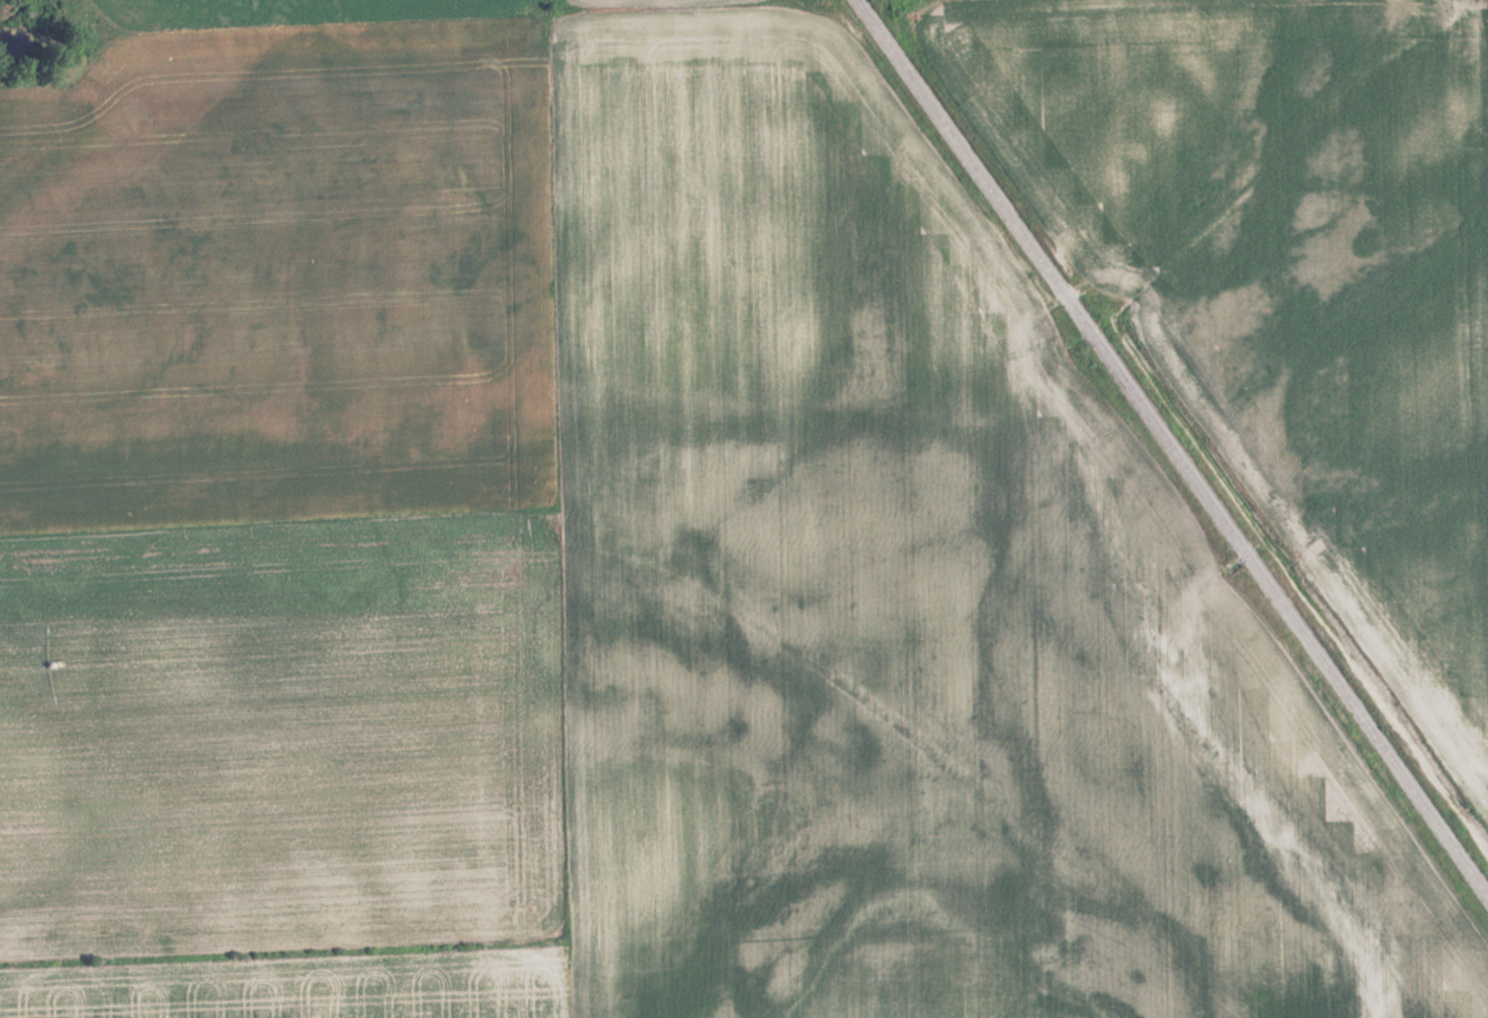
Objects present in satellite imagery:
railway: (1173, 443)

